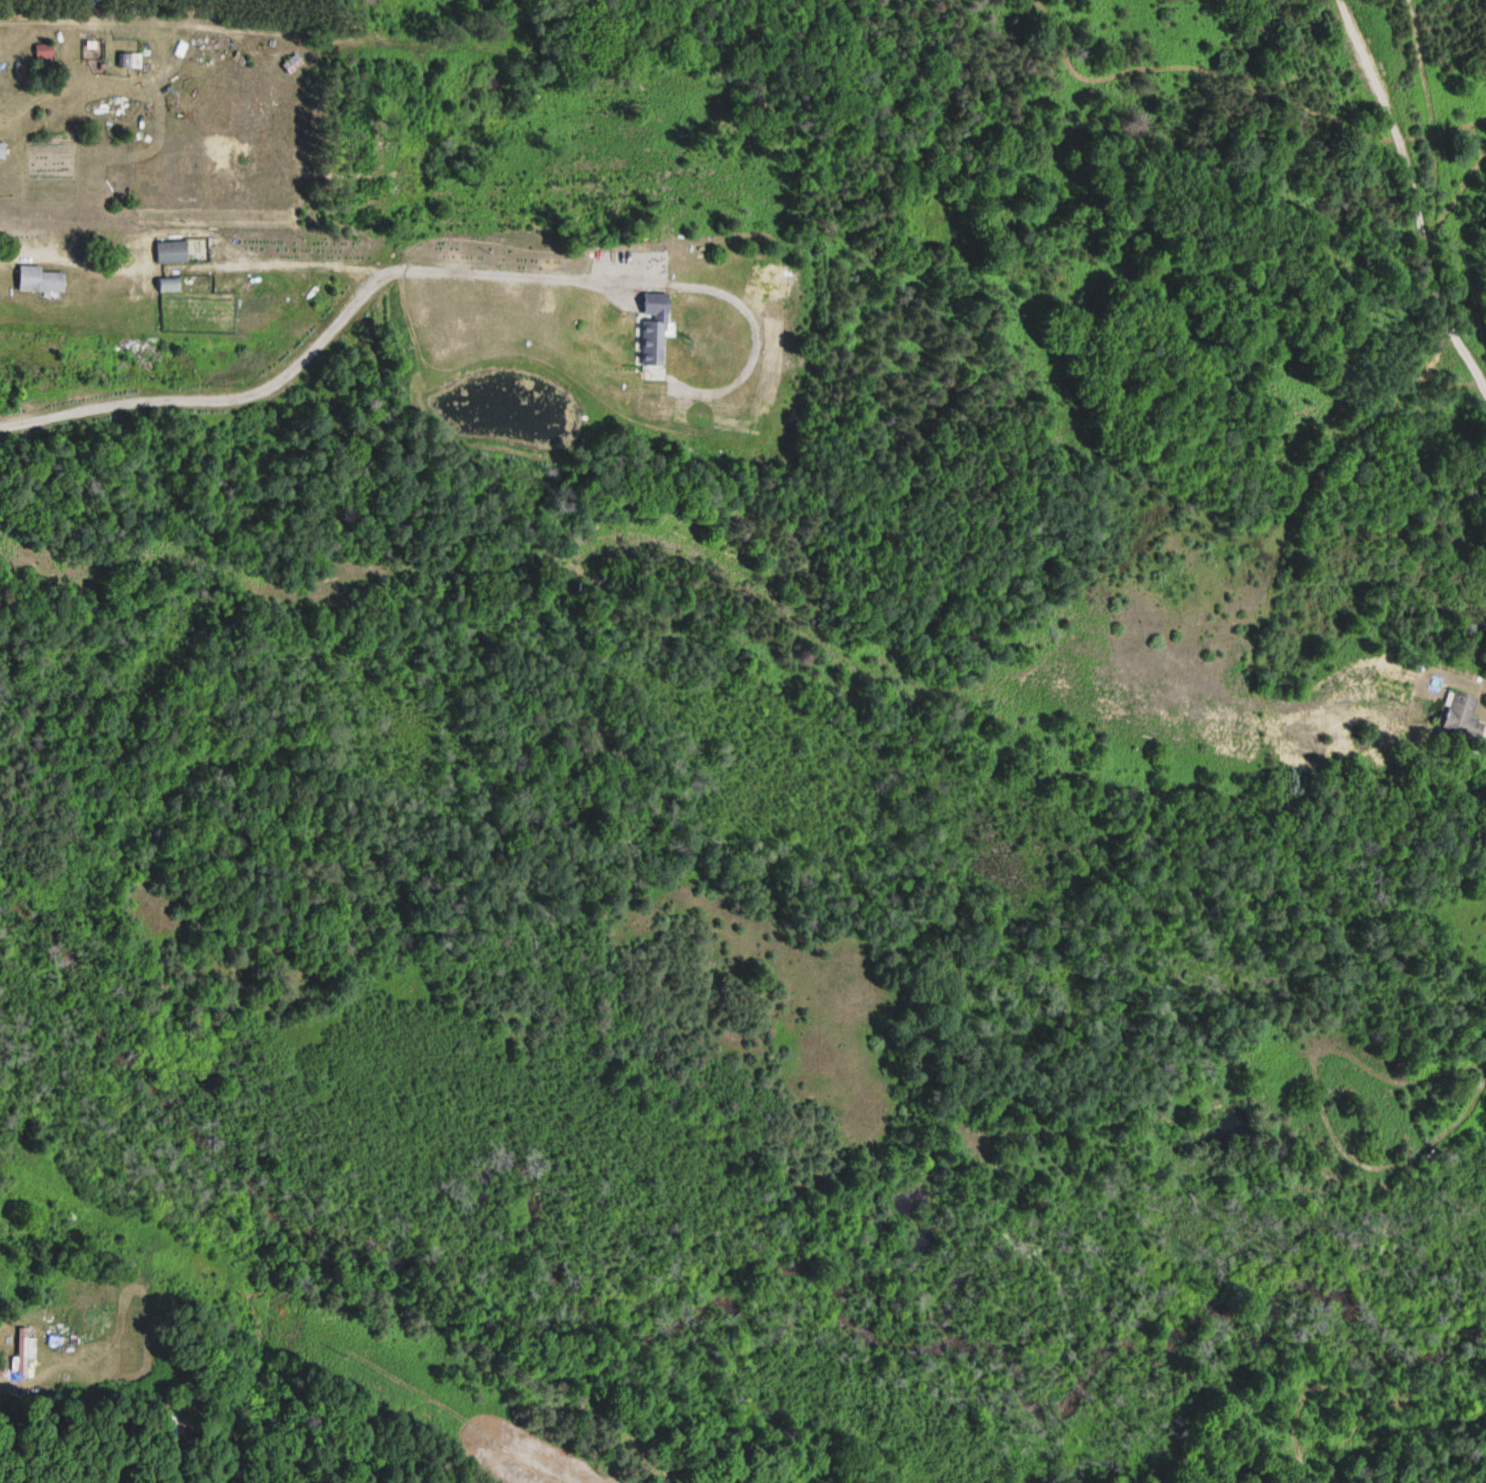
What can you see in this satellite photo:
building: (127, 61)
building: (292, 64)
building: (2, 152)
road: (1412, 201)
building: (171, 253)
building: (40, 281)
building: (169, 285)
building: (651, 337)
building: (1460, 713)
building: (21, 1352)
park: (1147, 1424)
road: (502, 1444)
road: (1298, 1467)

